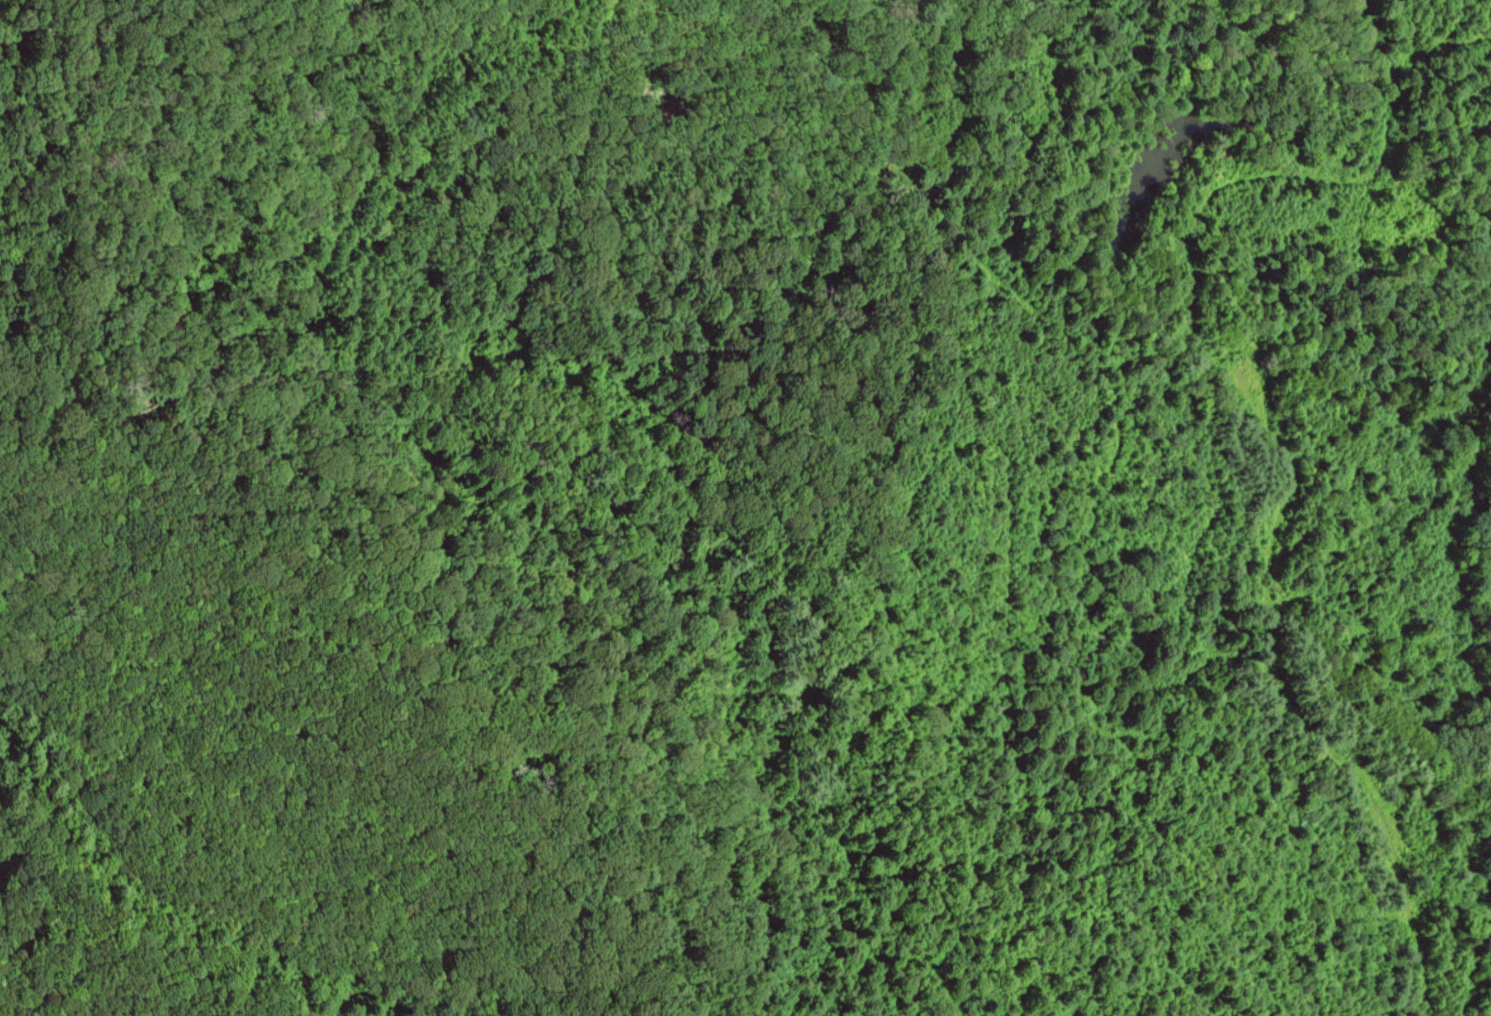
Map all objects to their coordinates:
road: (1320, 177)

